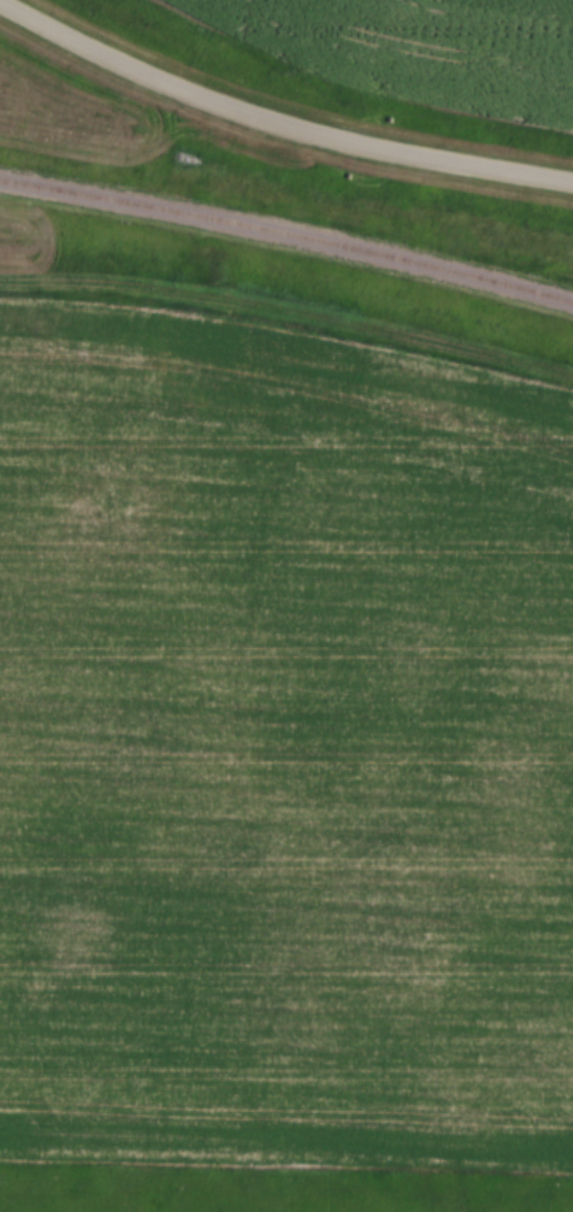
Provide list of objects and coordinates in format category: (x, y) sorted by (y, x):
road: (276, 123)
railway: (286, 243)
road: (286, 440)

